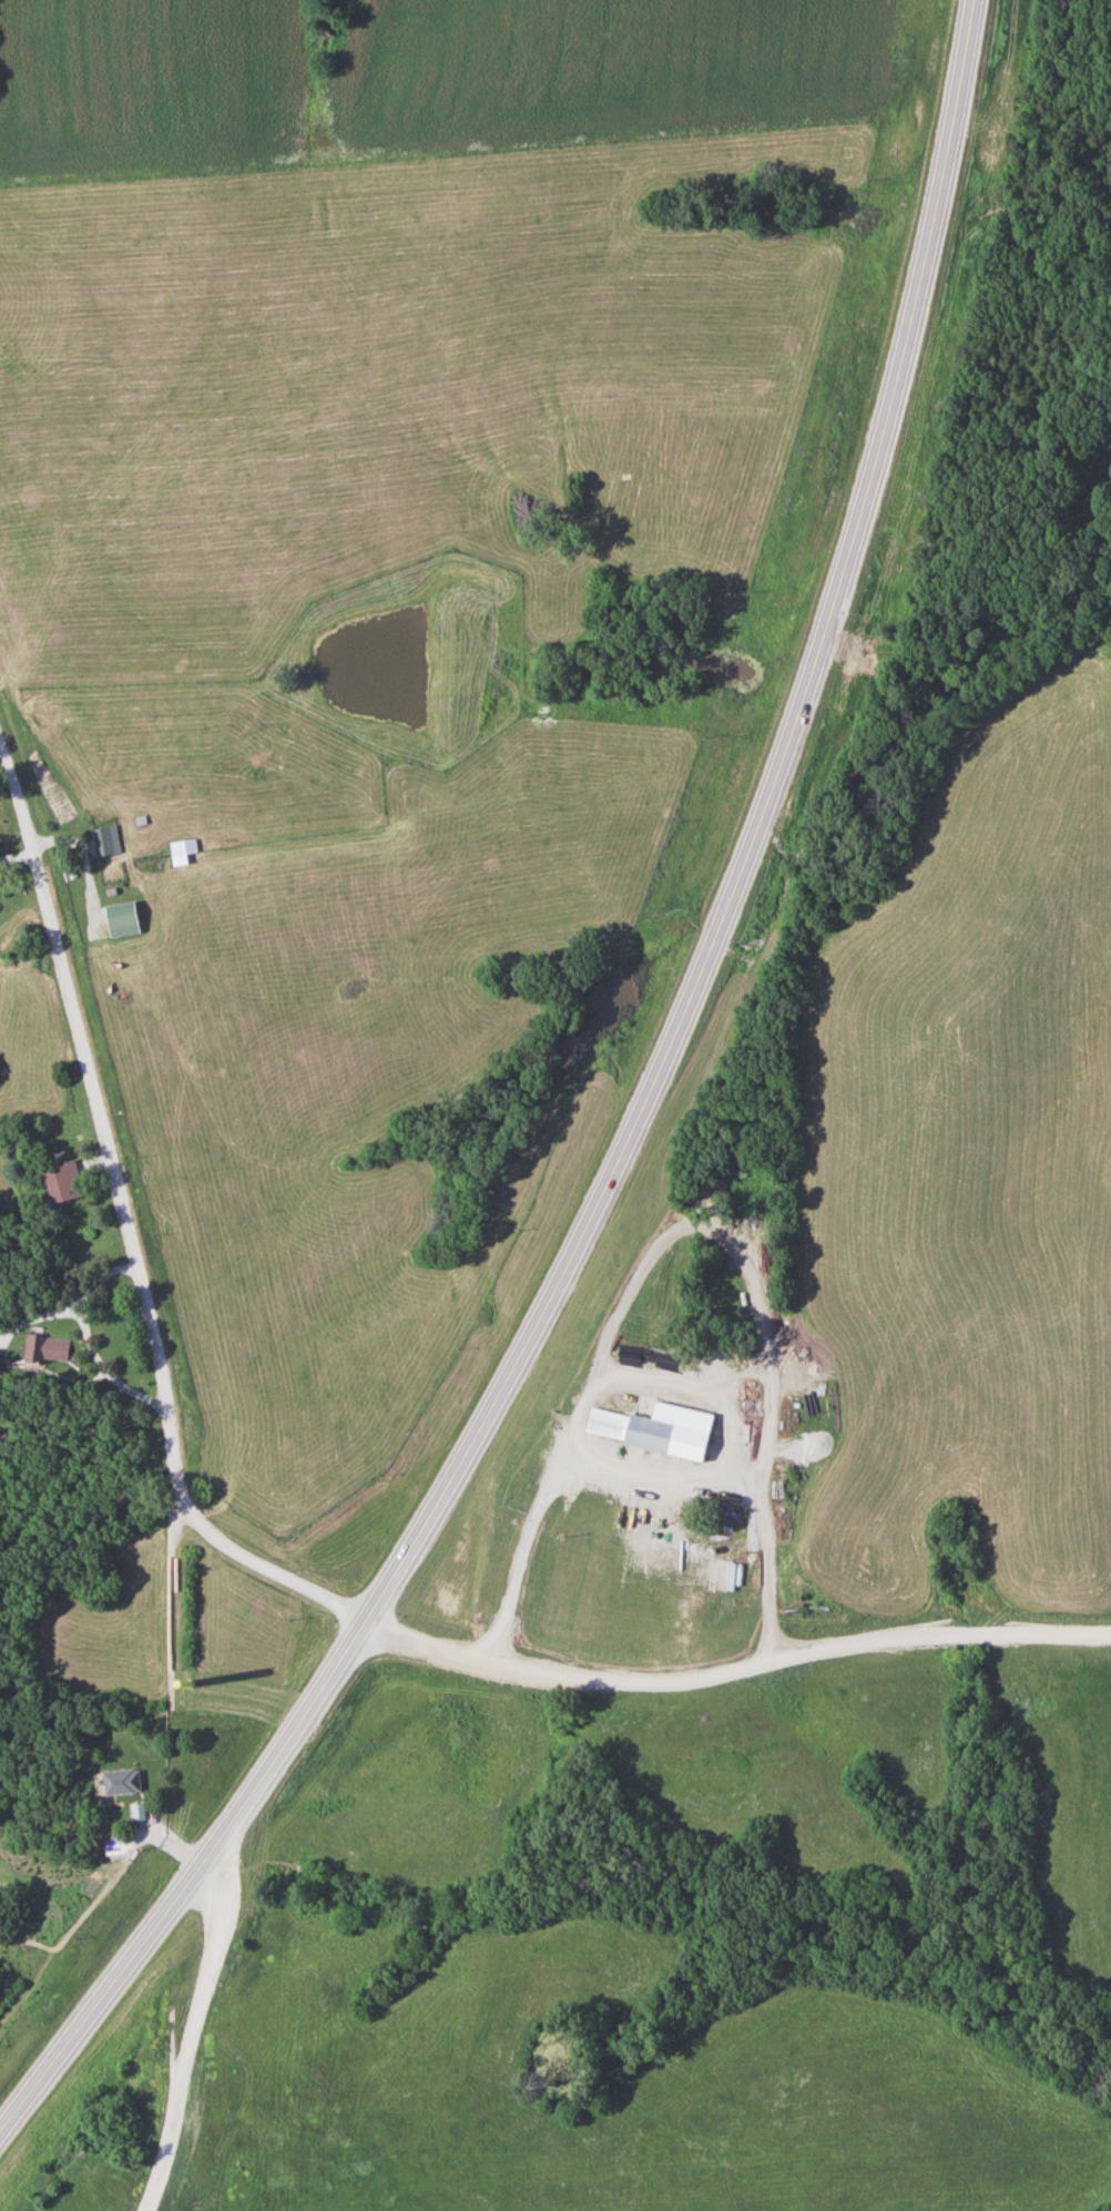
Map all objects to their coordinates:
building: (106, 842)
building: (183, 852)
building: (123, 920)
road: (631, 1131)
building: (64, 1181)
road: (124, 1203)
building: (48, 1348)
building: (656, 1428)
road: (350, 1609)
road: (735, 1668)
building: (123, 1782)
building: (142, 1821)
road: (188, 2034)

